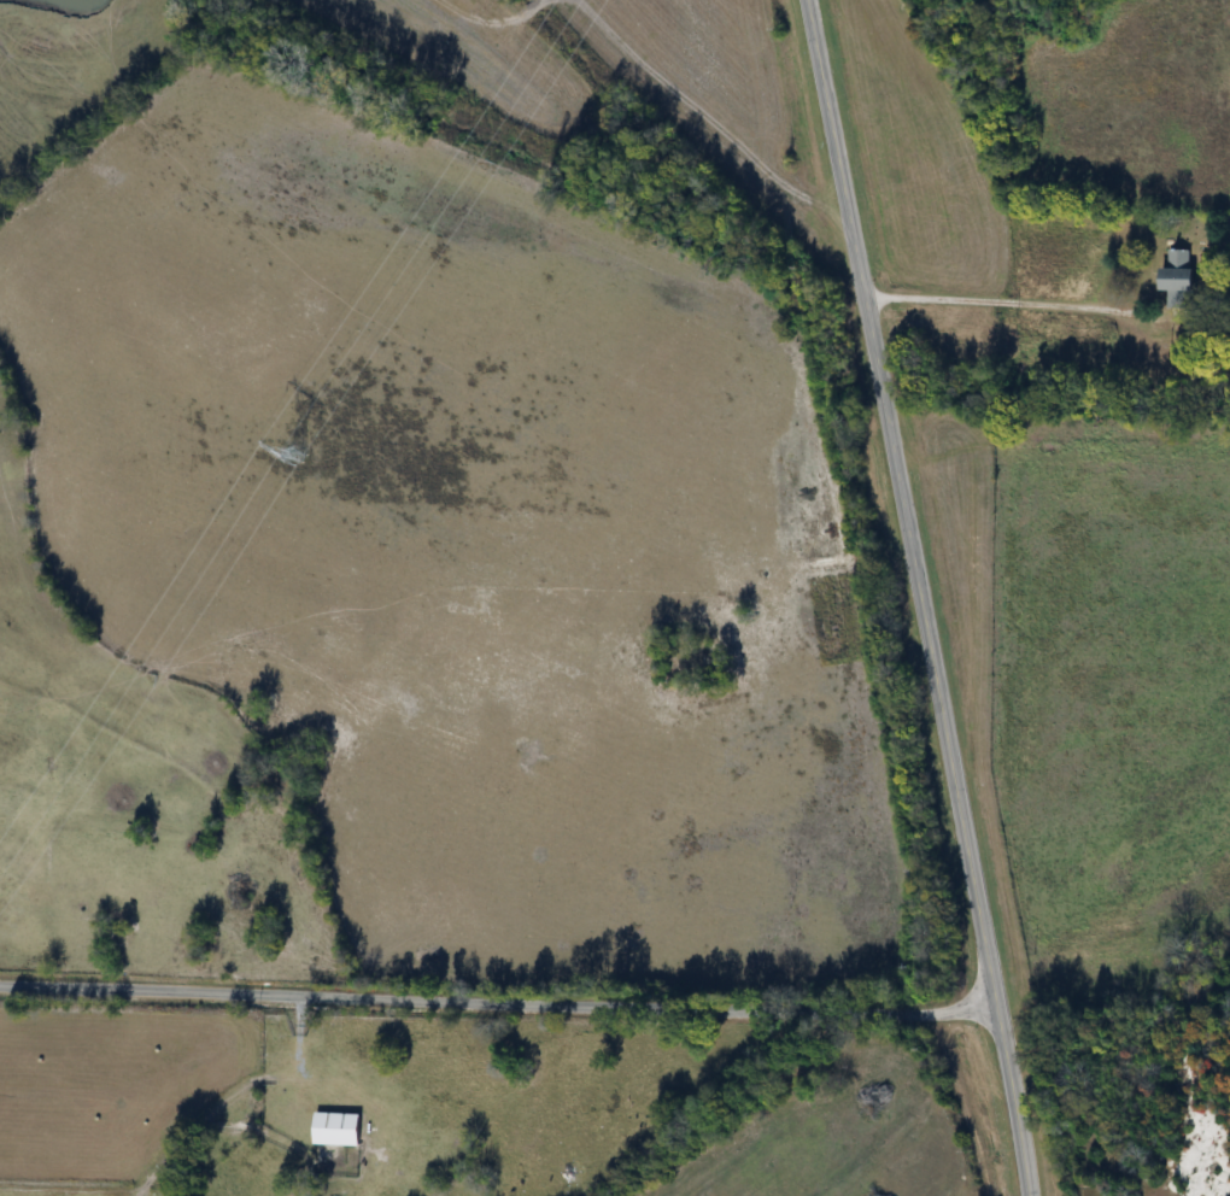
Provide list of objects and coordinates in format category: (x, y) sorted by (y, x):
building: (1179, 280)
road: (1001, 300)
power tower: (297, 453)
road: (922, 597)
road: (498, 1006)
building: (339, 1130)

